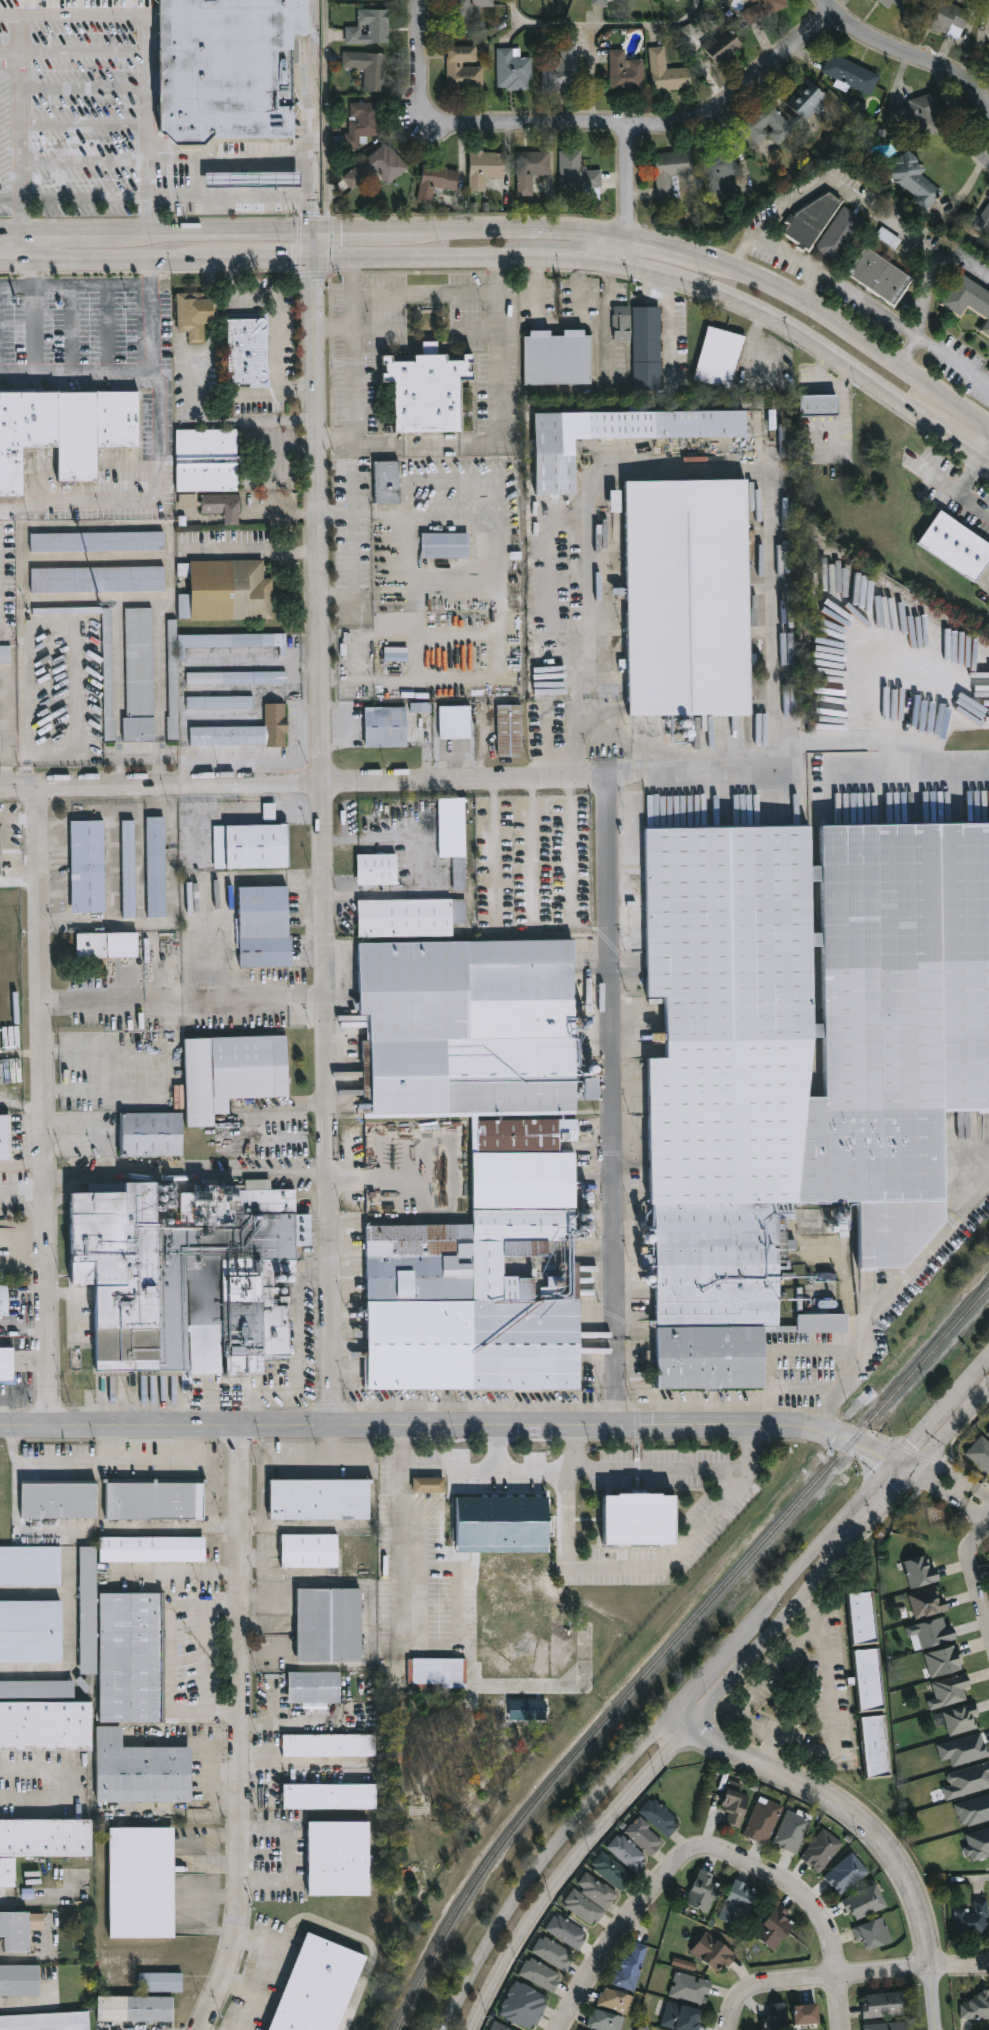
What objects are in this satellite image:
building: (363, 0)
building: (599, 2)
building: (891, 3)
building: (762, 9)
building: (464, 11)
building: (939, 17)
building: (368, 28)
road: (612, 34)
building: (722, 46)
road: (12, 49)
road: (151, 52)
building: (988, 52)
road: (905, 61)
road: (12, 65)
building: (228, 66)
building: (367, 68)
building: (463, 68)
building: (558, 69)
building: (512, 70)
building: (623, 72)
building: (667, 73)
building: (846, 73)
building: (802, 101)
building: (922, 115)
road: (312, 117)
road: (327, 117)
building: (362, 122)
building: (764, 125)
road: (589, 126)
road: (87, 129)
road: (24, 138)
road: (986, 149)
building: (715, 163)
building: (376, 167)
building: (485, 167)
building: (529, 170)
building: (668, 172)
building: (575, 173)
building: (251, 177)
gas station: (251, 177)
building: (436, 181)
building: (915, 181)
road: (230, 193)
road: (630, 195)
road: (12, 198)
road: (874, 214)
building: (812, 220)
building: (983, 222)
road: (517, 233)
building: (838, 233)
road: (359, 234)
traffic signals: (315, 235)
road: (214, 236)
building: (888, 237)
road: (69, 240)
road: (12, 241)
road: (663, 247)
road: (578, 259)
road: (962, 259)
road: (12, 262)
road: (420, 262)
road: (115, 263)
road: (260, 265)
traffic signals: (316, 267)
building: (876, 276)
road: (837, 283)
road: (661, 284)
road: (89, 286)
road: (26, 287)
road: (811, 290)
road: (424, 293)
building: (968, 300)
building: (198, 315)
road: (785, 323)
building: (620, 324)
road: (277, 325)
road: (560, 325)
road: (27, 329)
road: (847, 335)
road: (672, 341)
building: (645, 350)
building: (250, 352)
building: (555, 358)
building: (717, 358)
road: (954, 359)
road: (129, 370)
building: (988, 372)
building: (988, 373)
building: (423, 389)
building: (250, 401)
building: (816, 405)
road: (221, 418)
building: (65, 424)
building: (612, 437)
road: (955, 438)
road: (429, 446)
road: (987, 457)
building: (209, 461)
road: (987, 461)
road: (285, 462)
building: (385, 483)
road: (355, 489)
road: (962, 490)
building: (190, 501)
road: (143, 502)
building: (224, 507)
road: (284, 511)
building: (98, 542)
building: (955, 544)
building: (443, 546)
road: (356, 550)
road: (255, 553)
building: (99, 580)
building: (228, 592)
building: (682, 598)
building: (5, 654)
building: (394, 655)
building: (140, 675)
building: (108, 677)
building: (238, 679)
building: (174, 701)
building: (221, 703)
building: (420, 707)
building: (0, 712)
building: (453, 723)
building: (383, 728)
building: (248, 732)
building: (507, 732)
building: (0, 743)
road: (879, 744)
road: (397, 784)
building: (269, 811)
road: (4, 818)
road: (23, 818)
road: (327, 831)
building: (455, 837)
building: (252, 847)
road: (8, 849)
building: (0, 853)
building: (89, 867)
building: (158, 868)
building: (379, 869)
building: (130, 870)
road: (20, 880)
building: (411, 917)
building: (267, 927)
building: (108, 946)
road: (608, 962)
road: (186, 998)
road: (169, 1024)
building: (803, 1060)
road: (176, 1070)
building: (234, 1074)
road: (45, 1109)
road: (90, 1135)
building: (153, 1135)
building: (5, 1138)
building: (479, 1164)
road: (189, 1170)
building: (189, 1274)
road: (887, 1293)
building: (4, 1301)
road: (776, 1350)
road: (298, 1359)
building: (8, 1365)
road: (976, 1372)
road: (929, 1424)
road: (957, 1425)
road: (451, 1427)
building: (987, 1431)
traffic signals: (912, 1444)
road: (114, 1446)
road: (188, 1446)
road: (496, 1449)
building: (980, 1453)
traffic signals: (883, 1456)
road: (911, 1461)
road: (109, 1464)
road: (290, 1466)
road: (905, 1468)
traffic signals: (941, 1470)
road: (660, 1471)
road: (464, 1472)
road: (950, 1475)
building: (430, 1485)
road: (939, 1490)
traffic signals: (898, 1491)
road: (982, 1494)
building: (157, 1499)
building: (322, 1500)
building: (60, 1501)
road: (884, 1505)
road: (977, 1513)
road: (250, 1517)
building: (641, 1521)
building: (502, 1524)
road: (407, 1539)
building: (153, 1550)
building: (311, 1551)
road: (809, 1555)
building: (30, 1567)
road: (631, 1568)
building: (920, 1572)
road: (181, 1574)
road: (972, 1580)
building: (925, 1603)
building: (859, 1618)
building: (331, 1626)
building: (31, 1632)
building: (929, 1634)
road: (766, 1640)
railway: (672, 1643)
building: (122, 1648)
road: (171, 1660)
building: (941, 1661)
building: (438, 1672)
building: (865, 1679)
road: (761, 1683)
road: (700, 1686)
building: (85, 1687)
building: (316, 1688)
building: (38, 1690)
building: (947, 1691)
road: (831, 1719)
building: (959, 1719)
road: (272, 1723)
road: (681, 1724)
building: (47, 1727)
road: (243, 1732)
building: (330, 1746)
building: (870, 1746)
building: (962, 1749)
road: (283, 1762)
building: (143, 1772)
building: (967, 1781)
road: (60, 1782)
building: (331, 1797)
building: (736, 1806)
building: (972, 1810)
building: (660, 1817)
building: (763, 1821)
road: (875, 1831)
building: (792, 1833)
building: (645, 1837)
building: (41, 1843)
building: (977, 1844)
building: (821, 1851)
building: (627, 1853)
road: (294, 1859)
building: (341, 1860)
road: (544, 1862)
road: (226, 1863)
road: (568, 1871)
building: (611, 1872)
building: (847, 1874)
road: (970, 1878)
road: (210, 1880)
building: (143, 1884)
building: (597, 1891)
building: (703, 1892)
road: (8, 1895)
road: (226, 1895)
road: (46, 1897)
building: (736, 1902)
road: (642, 1903)
building: (866, 1903)
building: (583, 1909)
building: (970, 1918)
building: (774, 1929)
building: (16, 1932)
building: (567, 1933)
building: (874, 1935)
road: (831, 1936)
building: (553, 1954)
building: (713, 1954)
building: (631, 1967)
road: (266, 1968)
road: (961, 1969)
building: (540, 1976)
road: (818, 1977)
building: (21, 1981)
building: (162, 1983)
building: (321, 1987)
building: (689, 1989)
building: (614, 2000)
building: (885, 2005)
building: (523, 2006)
building: (974, 2006)
building: (136, 2009)
building: (806, 2015)
building: (774, 2017)
building: (681, 2018)
building: (603, 2021)
building: (46, 2022)
building: (888, 2026)
road: (963, 2026)
building: (500, 2027)
building: (578, 2029)
building: (583, 2029)

